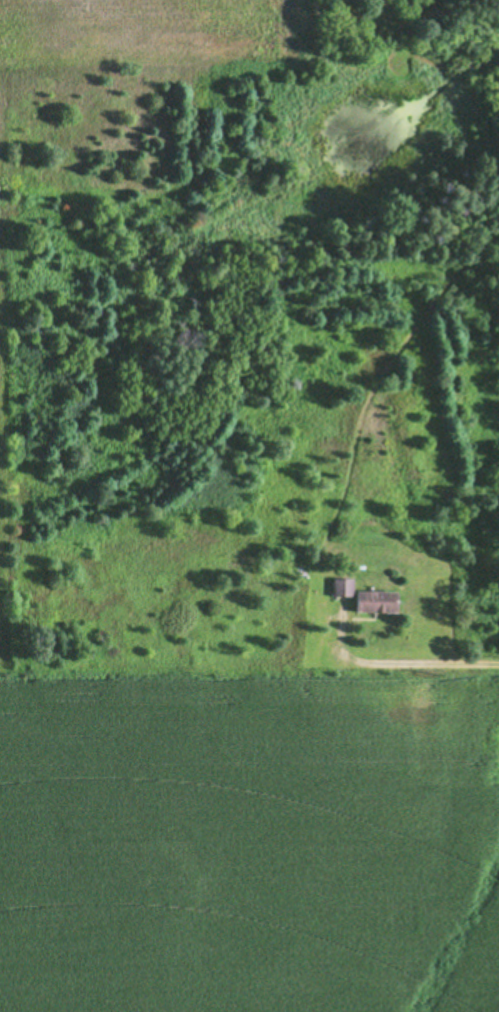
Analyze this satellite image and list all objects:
building: (342, 586)
building: (376, 601)

